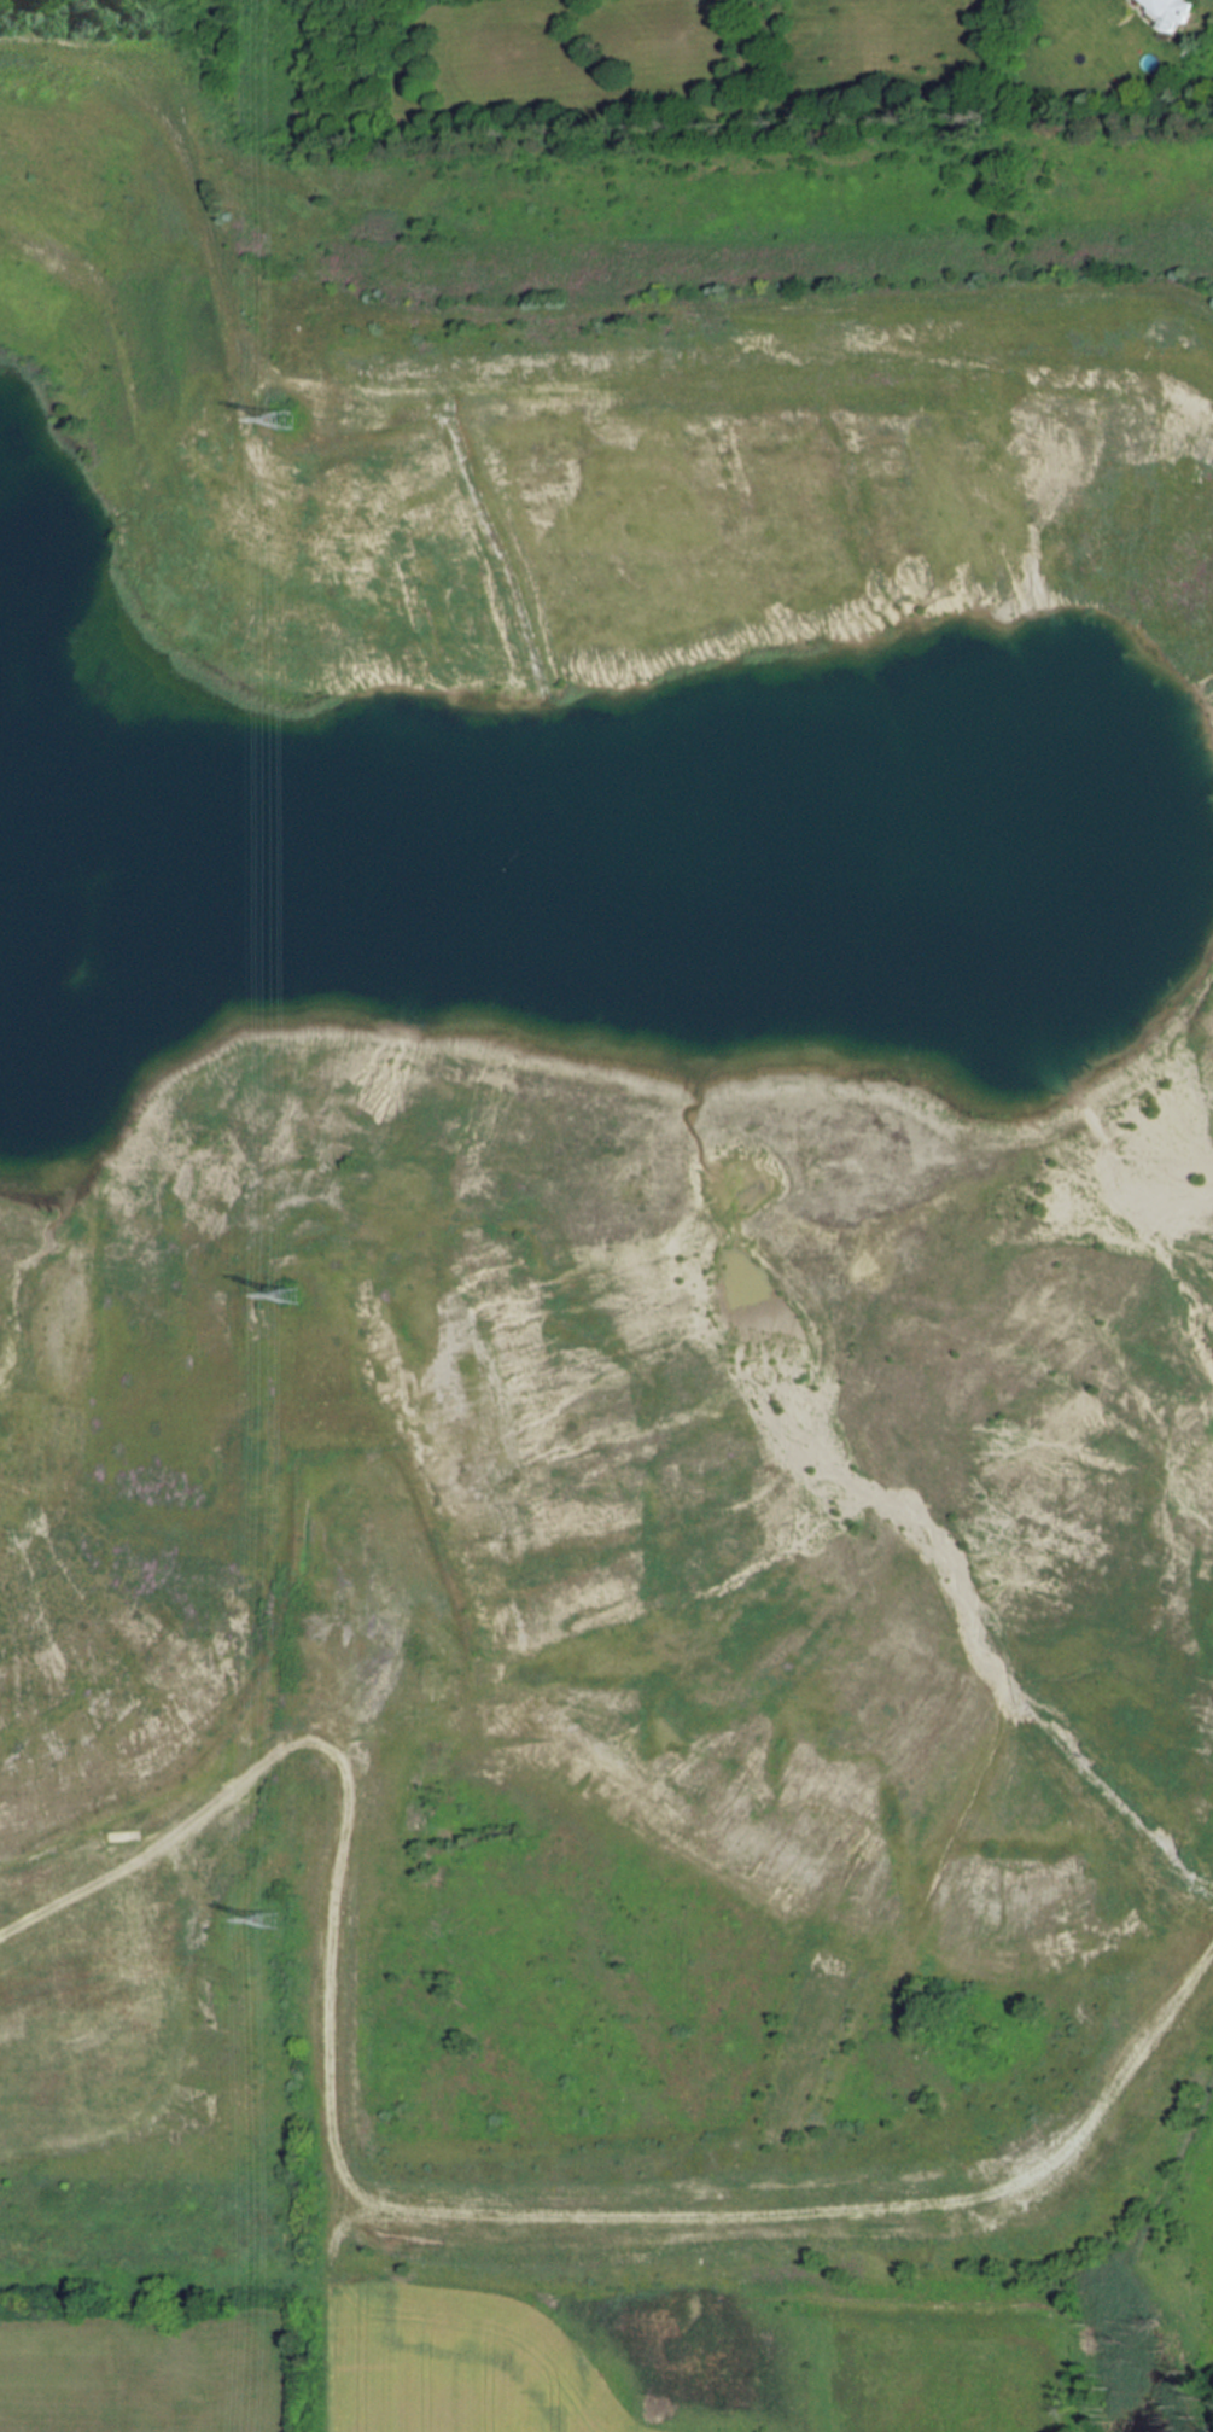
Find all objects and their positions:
building: (1172, 11)
power tower: (297, 424)
quarry: (591, 1256)
power tower: (296, 1294)
building: (326, 1612)
power tower: (278, 1919)

